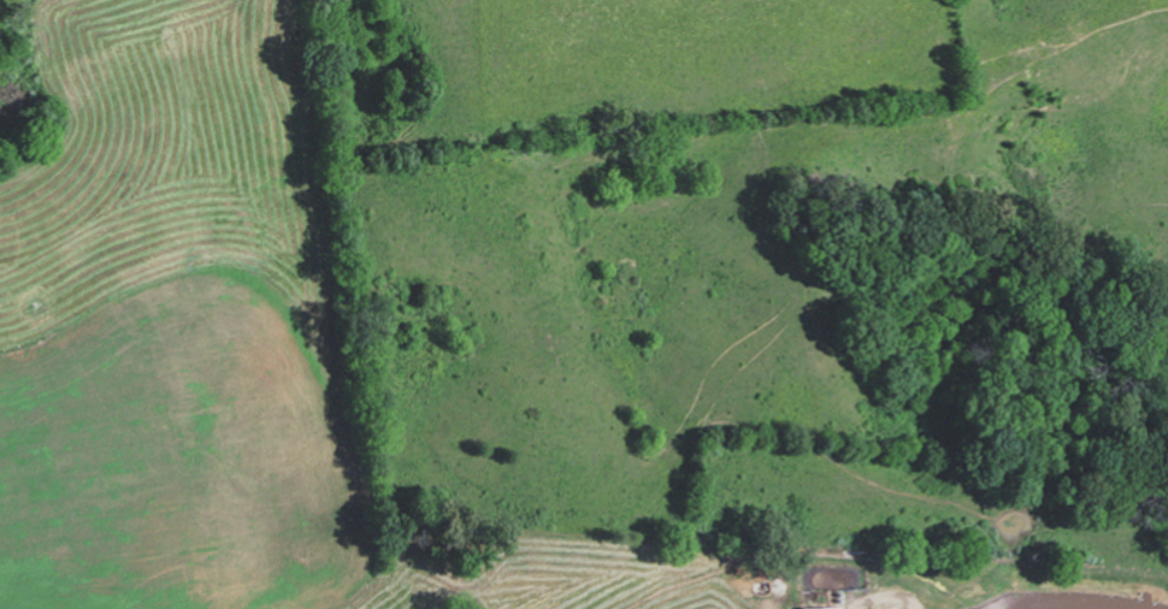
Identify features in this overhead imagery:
building: (818, 607)

